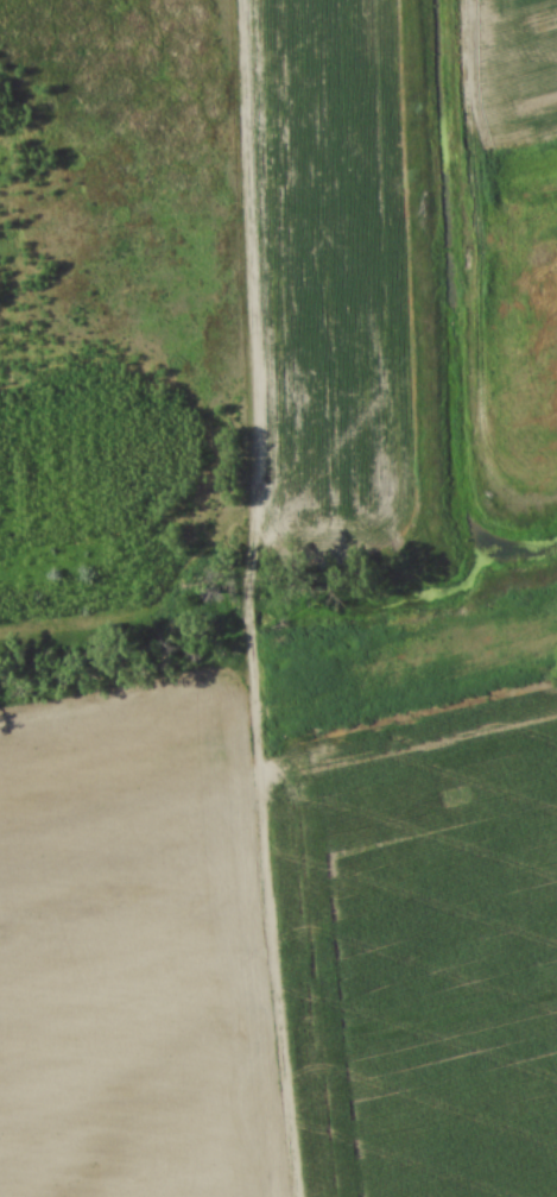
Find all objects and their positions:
road: (255, 599)

